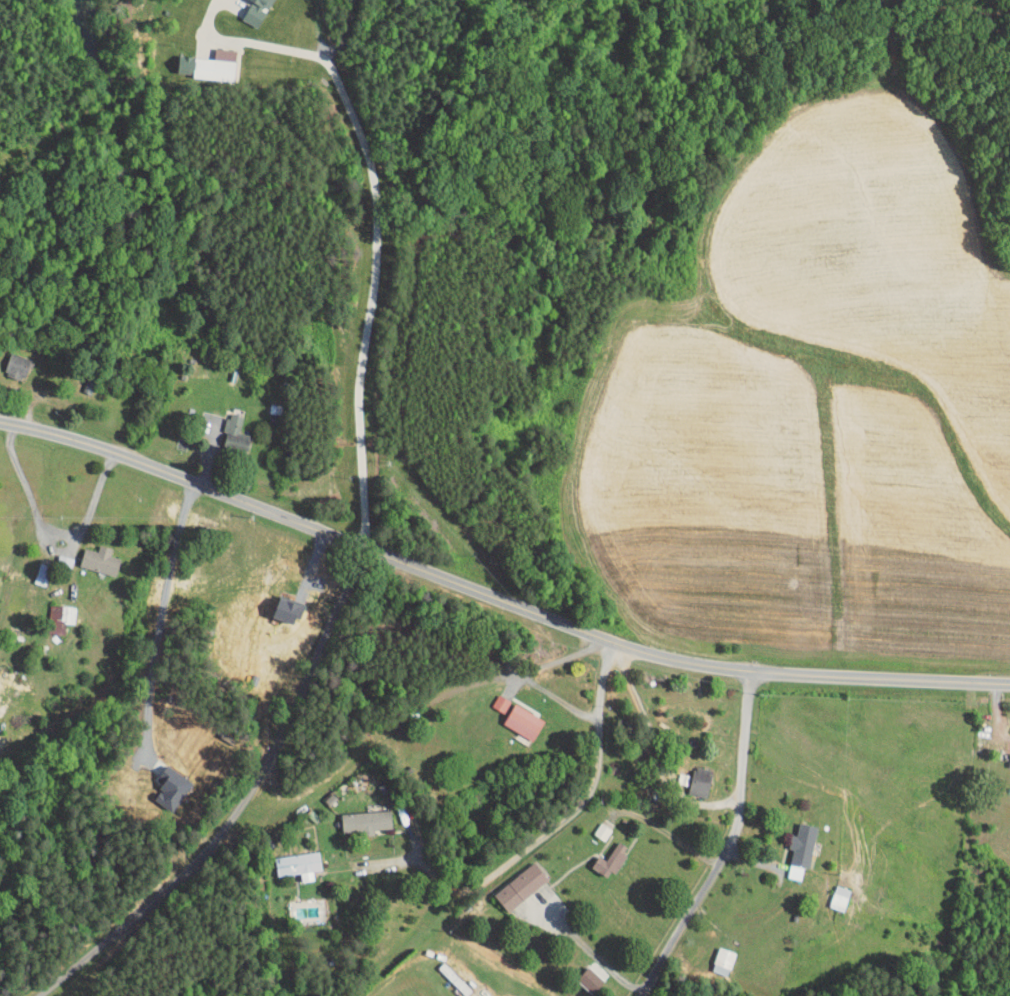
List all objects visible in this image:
building: (257, 1)
building: (243, 9)
building: (200, 58)
road: (374, 214)
building: (8, 359)
building: (224, 426)
road: (53, 525)
building: (89, 553)
road: (495, 598)
building: (277, 604)
building: (51, 606)
road: (529, 674)
building: (490, 697)
building: (513, 715)
building: (1005, 757)
building: (690, 775)
building: (160, 782)
road: (240, 802)
road: (699, 803)
building: (354, 816)
building: (591, 825)
road: (551, 833)
road: (676, 837)
building: (791, 843)
road: (729, 844)
building: (599, 854)
building: (288, 858)
building: (510, 880)
building: (828, 891)
road: (591, 953)
building: (712, 955)
building: (587, 963)
building: (579, 974)

